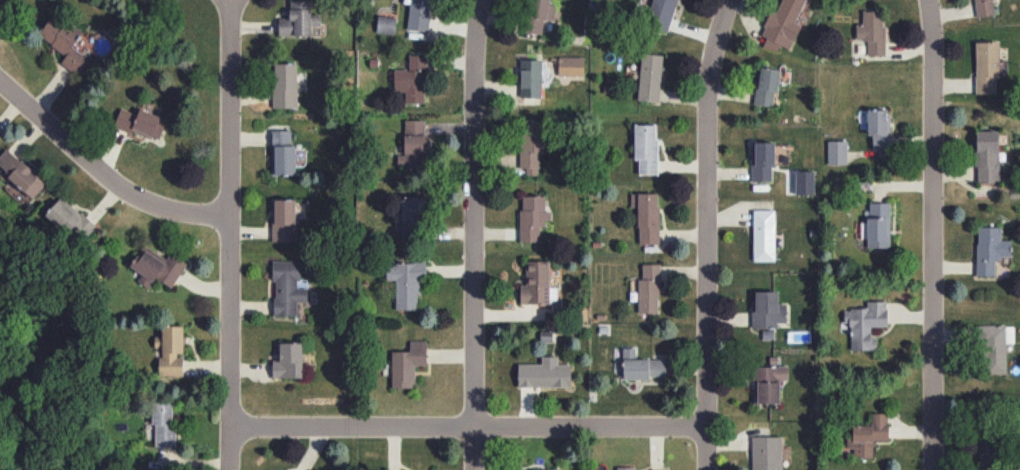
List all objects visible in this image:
building: (984, 7)
building: (661, 13)
building: (419, 15)
building: (538, 15)
building: (299, 19)
building: (386, 24)
building: (782, 25)
building: (872, 31)
building: (65, 42)
building: (571, 66)
building: (986, 67)
building: (649, 77)
building: (531, 78)
building: (412, 79)
building: (285, 85)
building: (767, 86)
building: (141, 123)
building: (879, 128)
building: (0, 137)
building: (413, 144)
building: (531, 145)
building: (646, 148)
building: (282, 152)
building: (837, 152)
building: (987, 156)
building: (763, 161)
building: (21, 172)
road: (101, 175)
building: (804, 182)
building: (412, 216)
building: (532, 216)
building: (647, 216)
building: (71, 219)
building: (284, 220)
building: (878, 224)
road: (706, 233)
road: (472, 234)
building: (763, 234)
road: (931, 234)
road: (231, 235)
building: (990, 249)
building: (157, 266)
building: (536, 282)
building: (406, 284)
building: (287, 287)
building: (649, 289)
building: (768, 310)
building: (865, 323)
building: (172, 350)
building: (288, 361)
building: (407, 363)
building: (642, 366)
building: (544, 373)
building: (768, 383)
building: (164, 423)
road: (468, 430)
building: (869, 435)
building: (988, 452)
building: (766, 453)
building: (625, 468)
building: (542, 469)
building: (657, 469)

